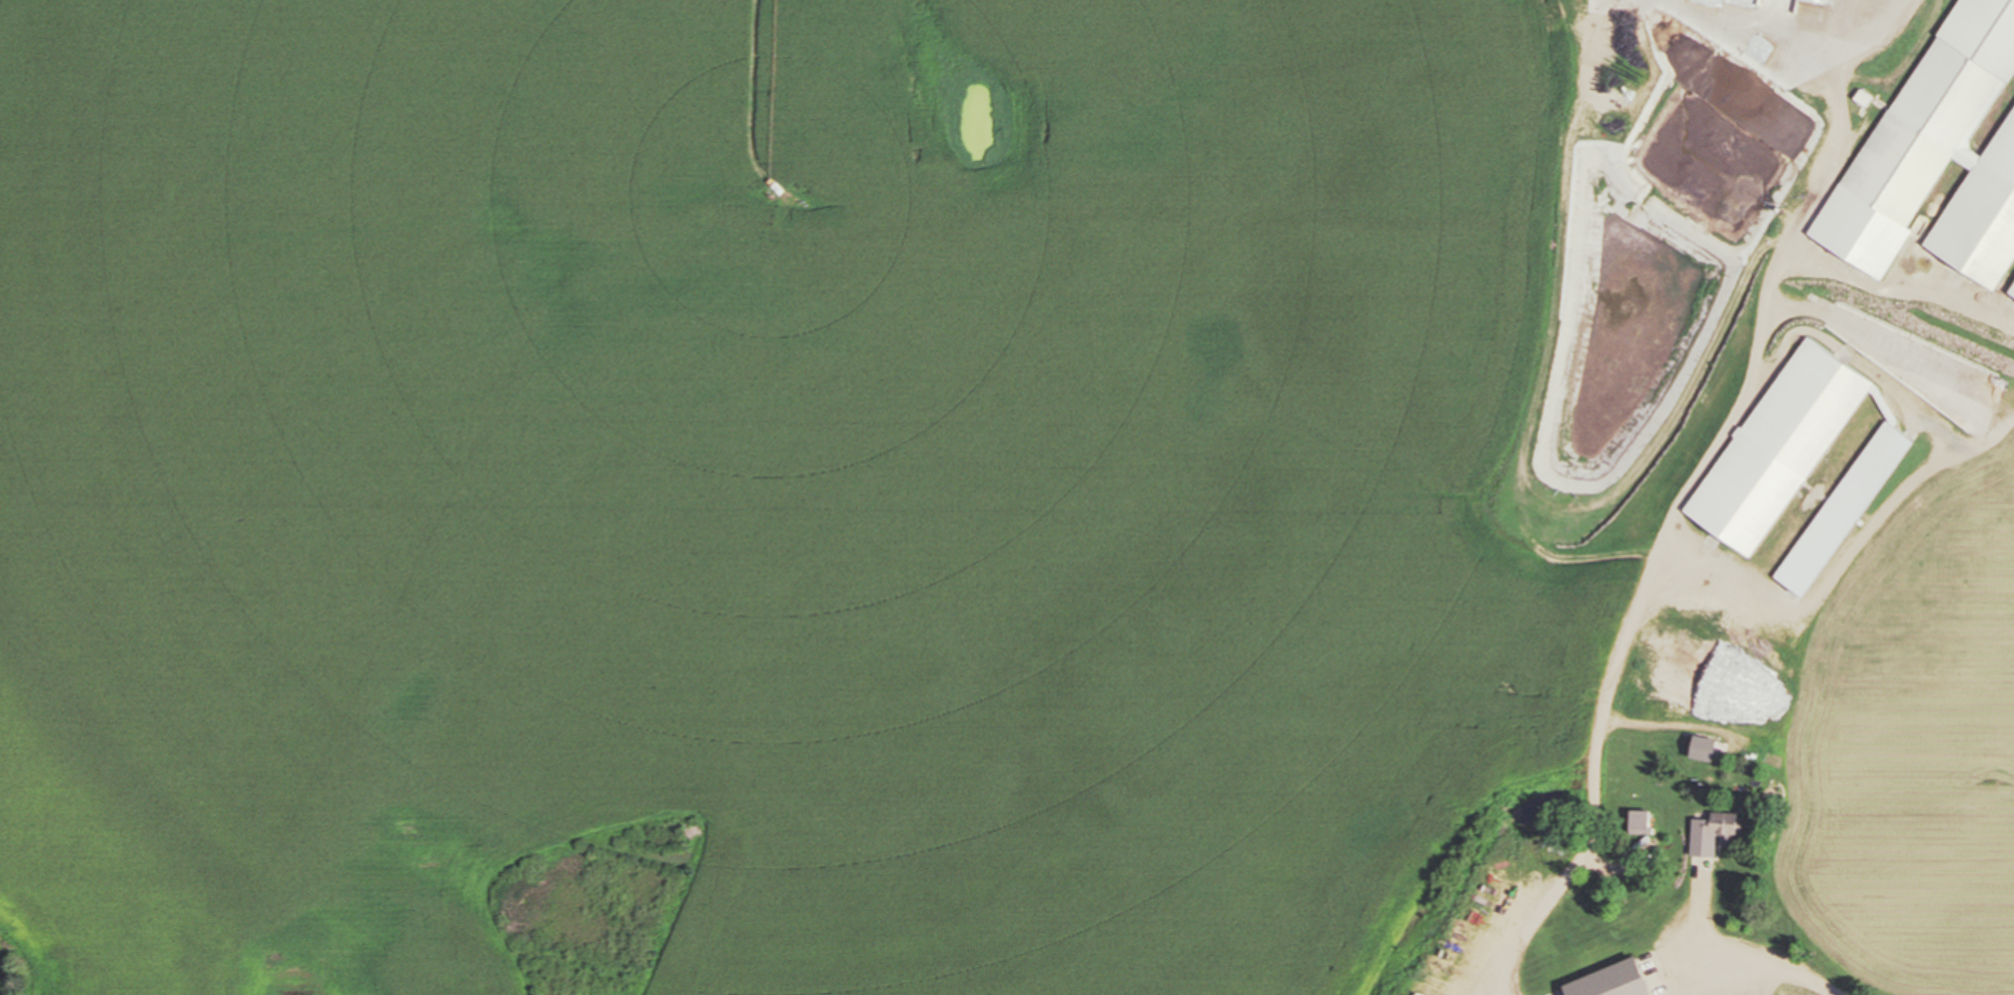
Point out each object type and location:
building: (2005, 22)
building: (1940, 163)
road: (1657, 584)
building: (1637, 822)
building: (1711, 831)
building: (1653, 956)
road: (1761, 959)

